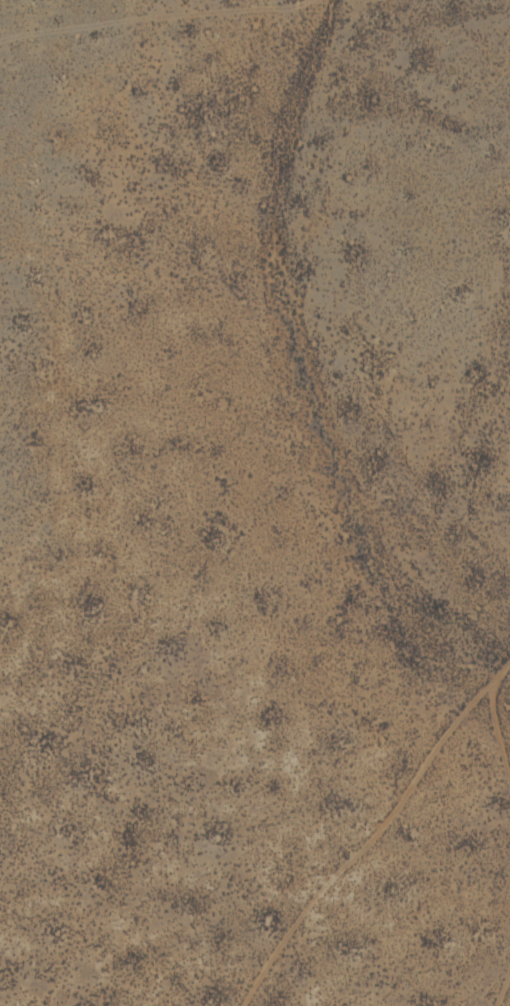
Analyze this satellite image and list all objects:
road: (495, 294)
road: (381, 857)

